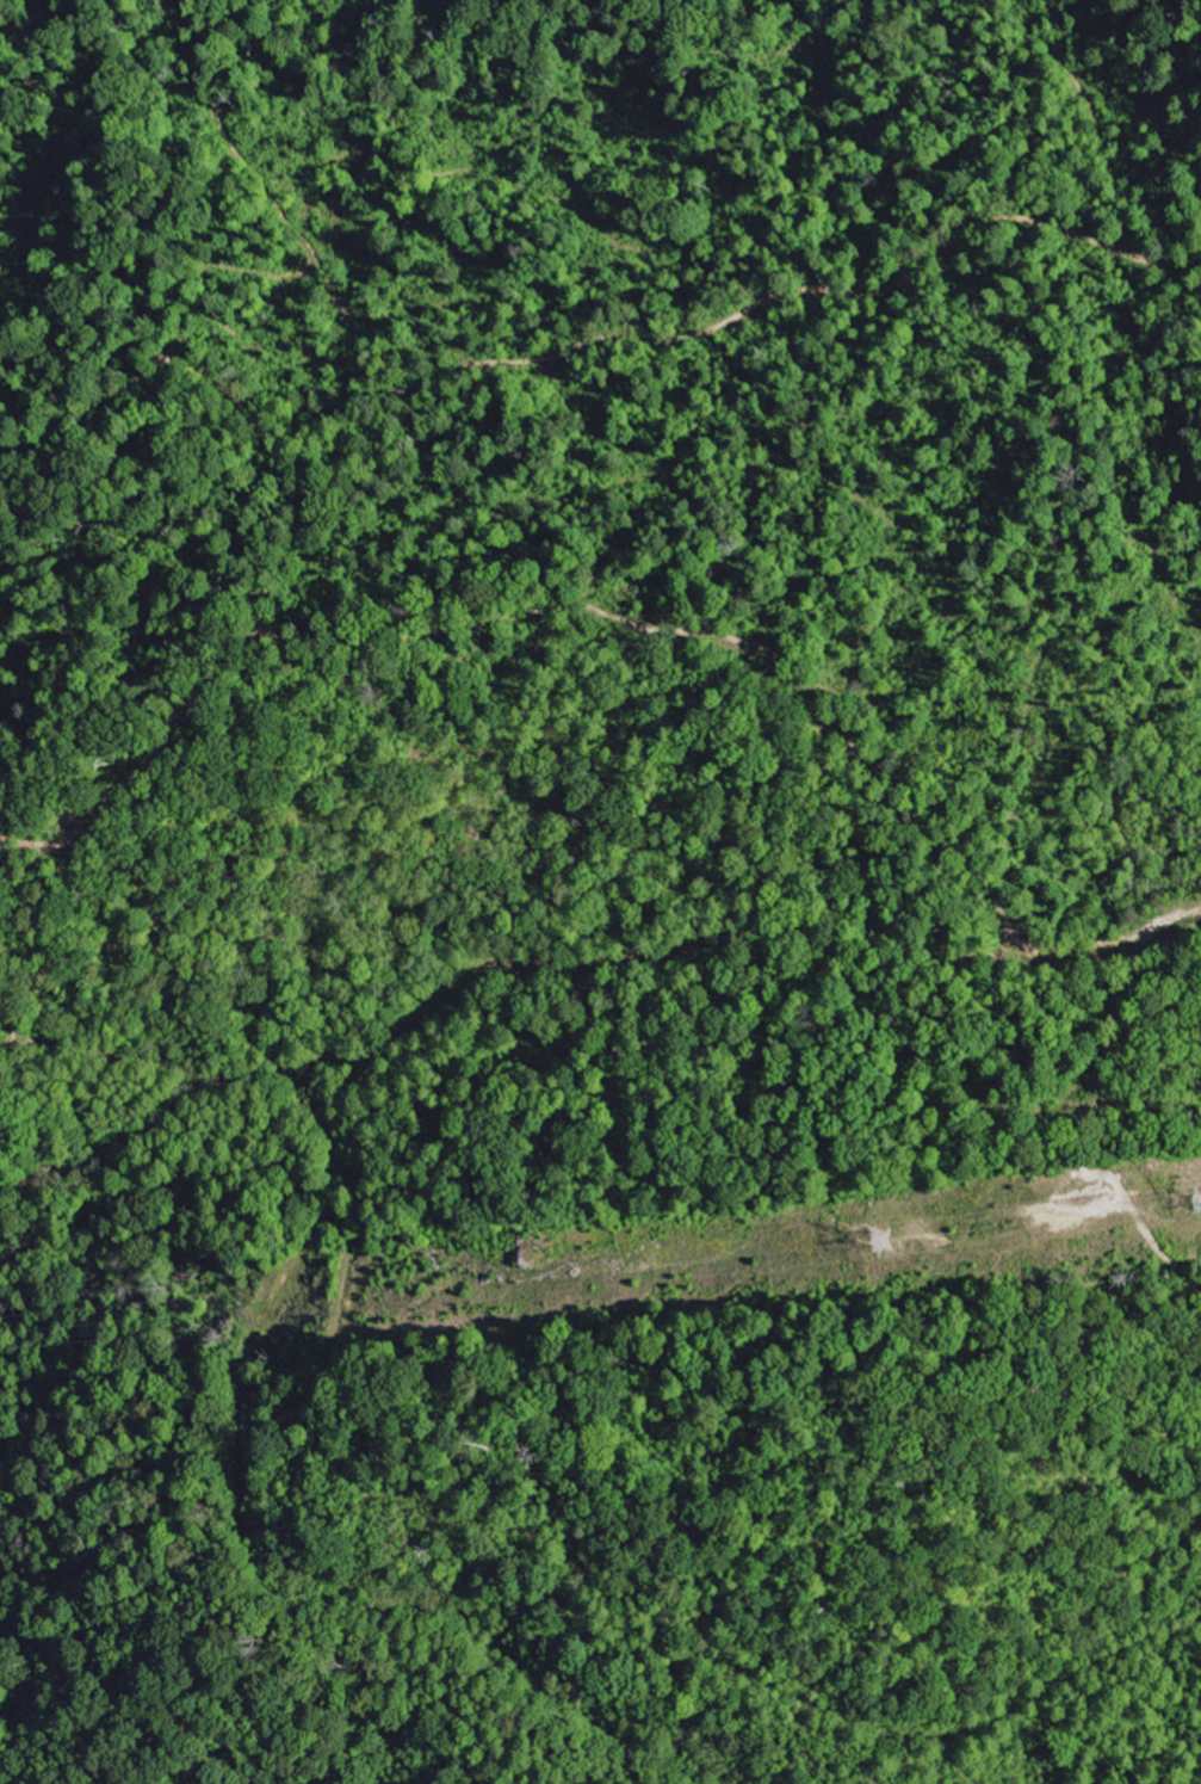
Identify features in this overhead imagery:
power tower: (884, 1255)

